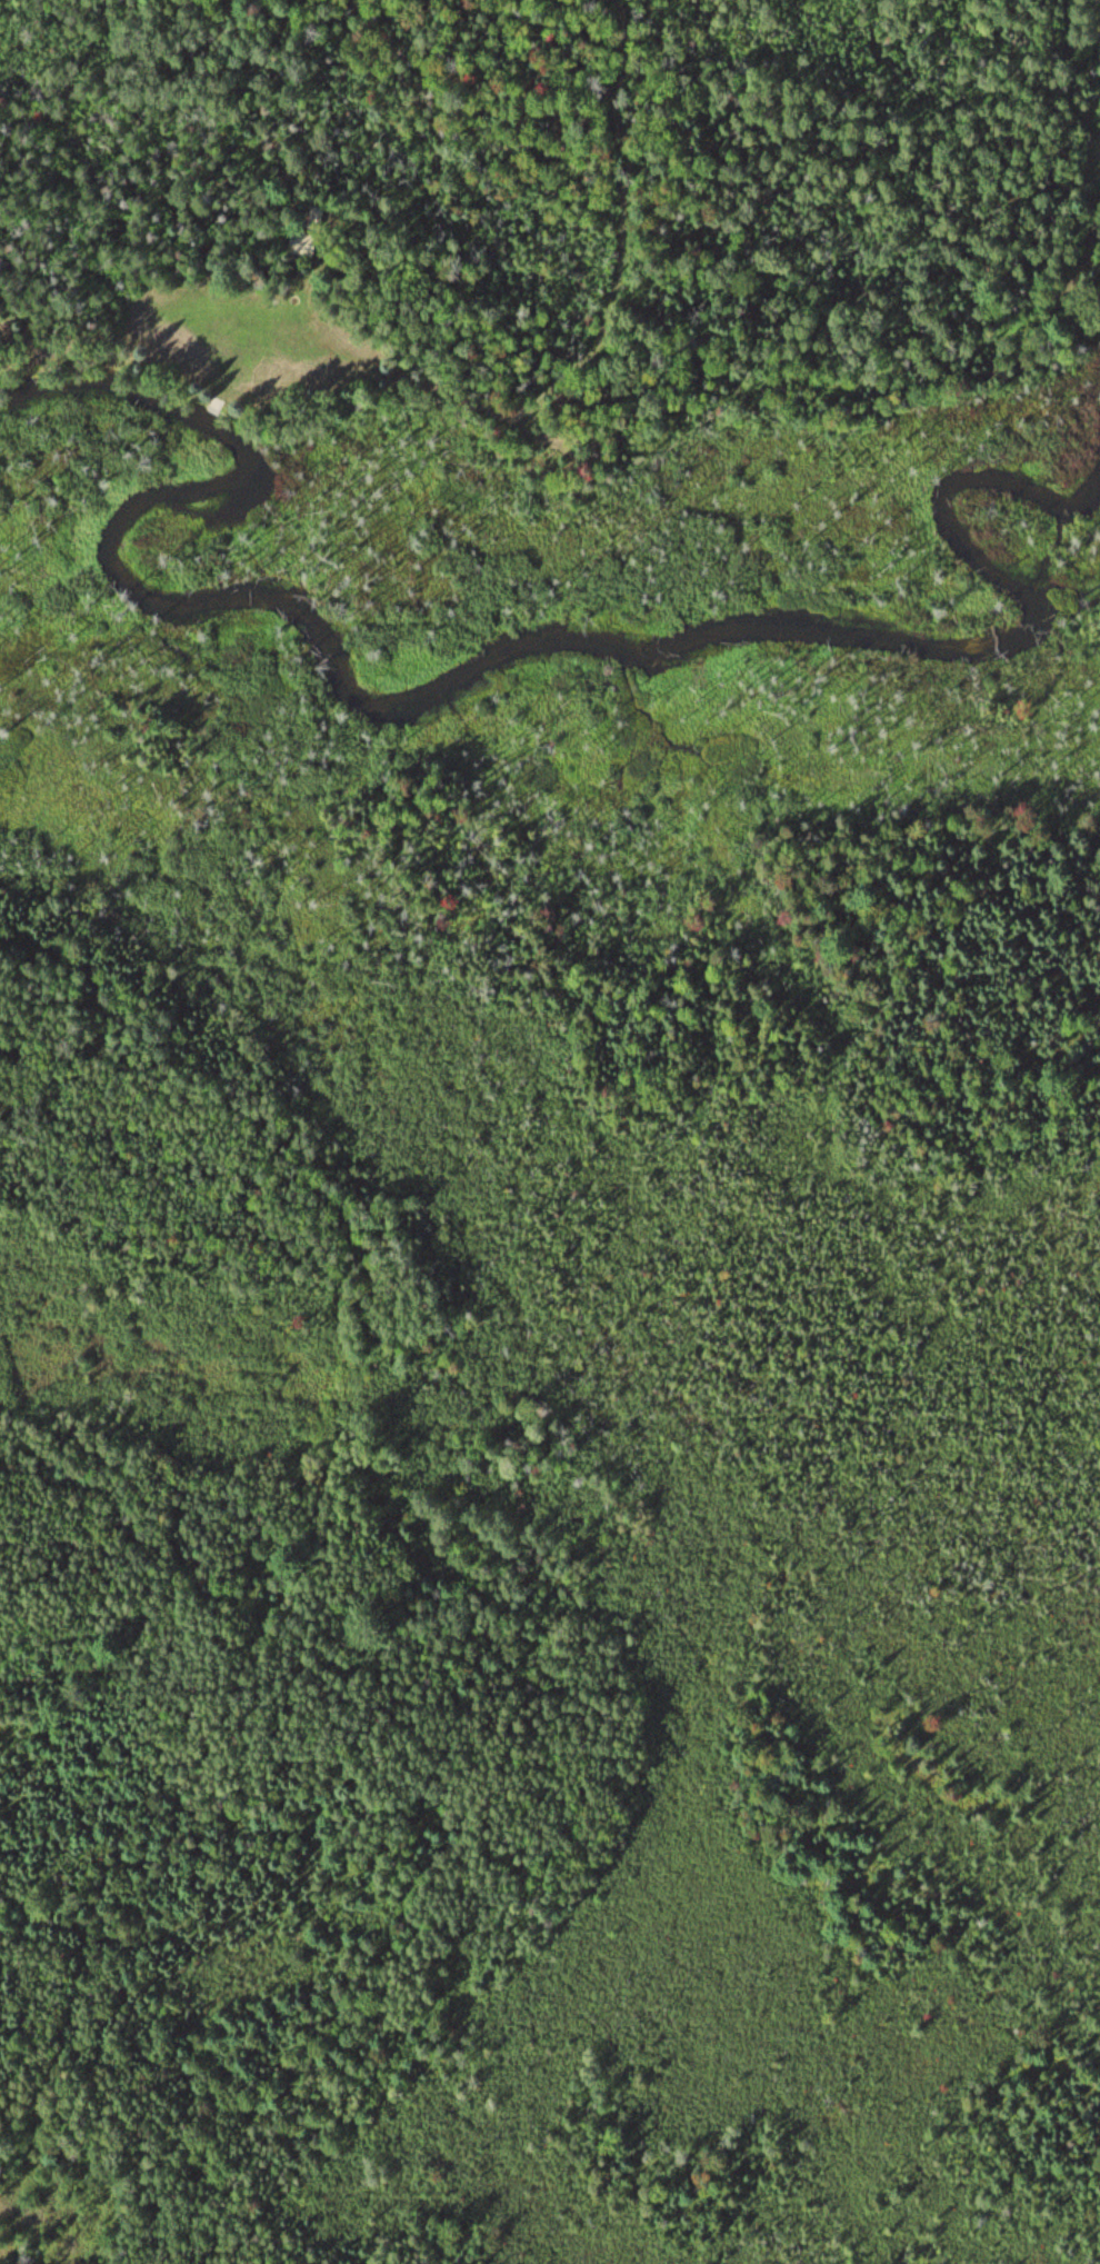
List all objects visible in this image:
building: (306, 245)
road: (67, 347)
river: (473, 674)

